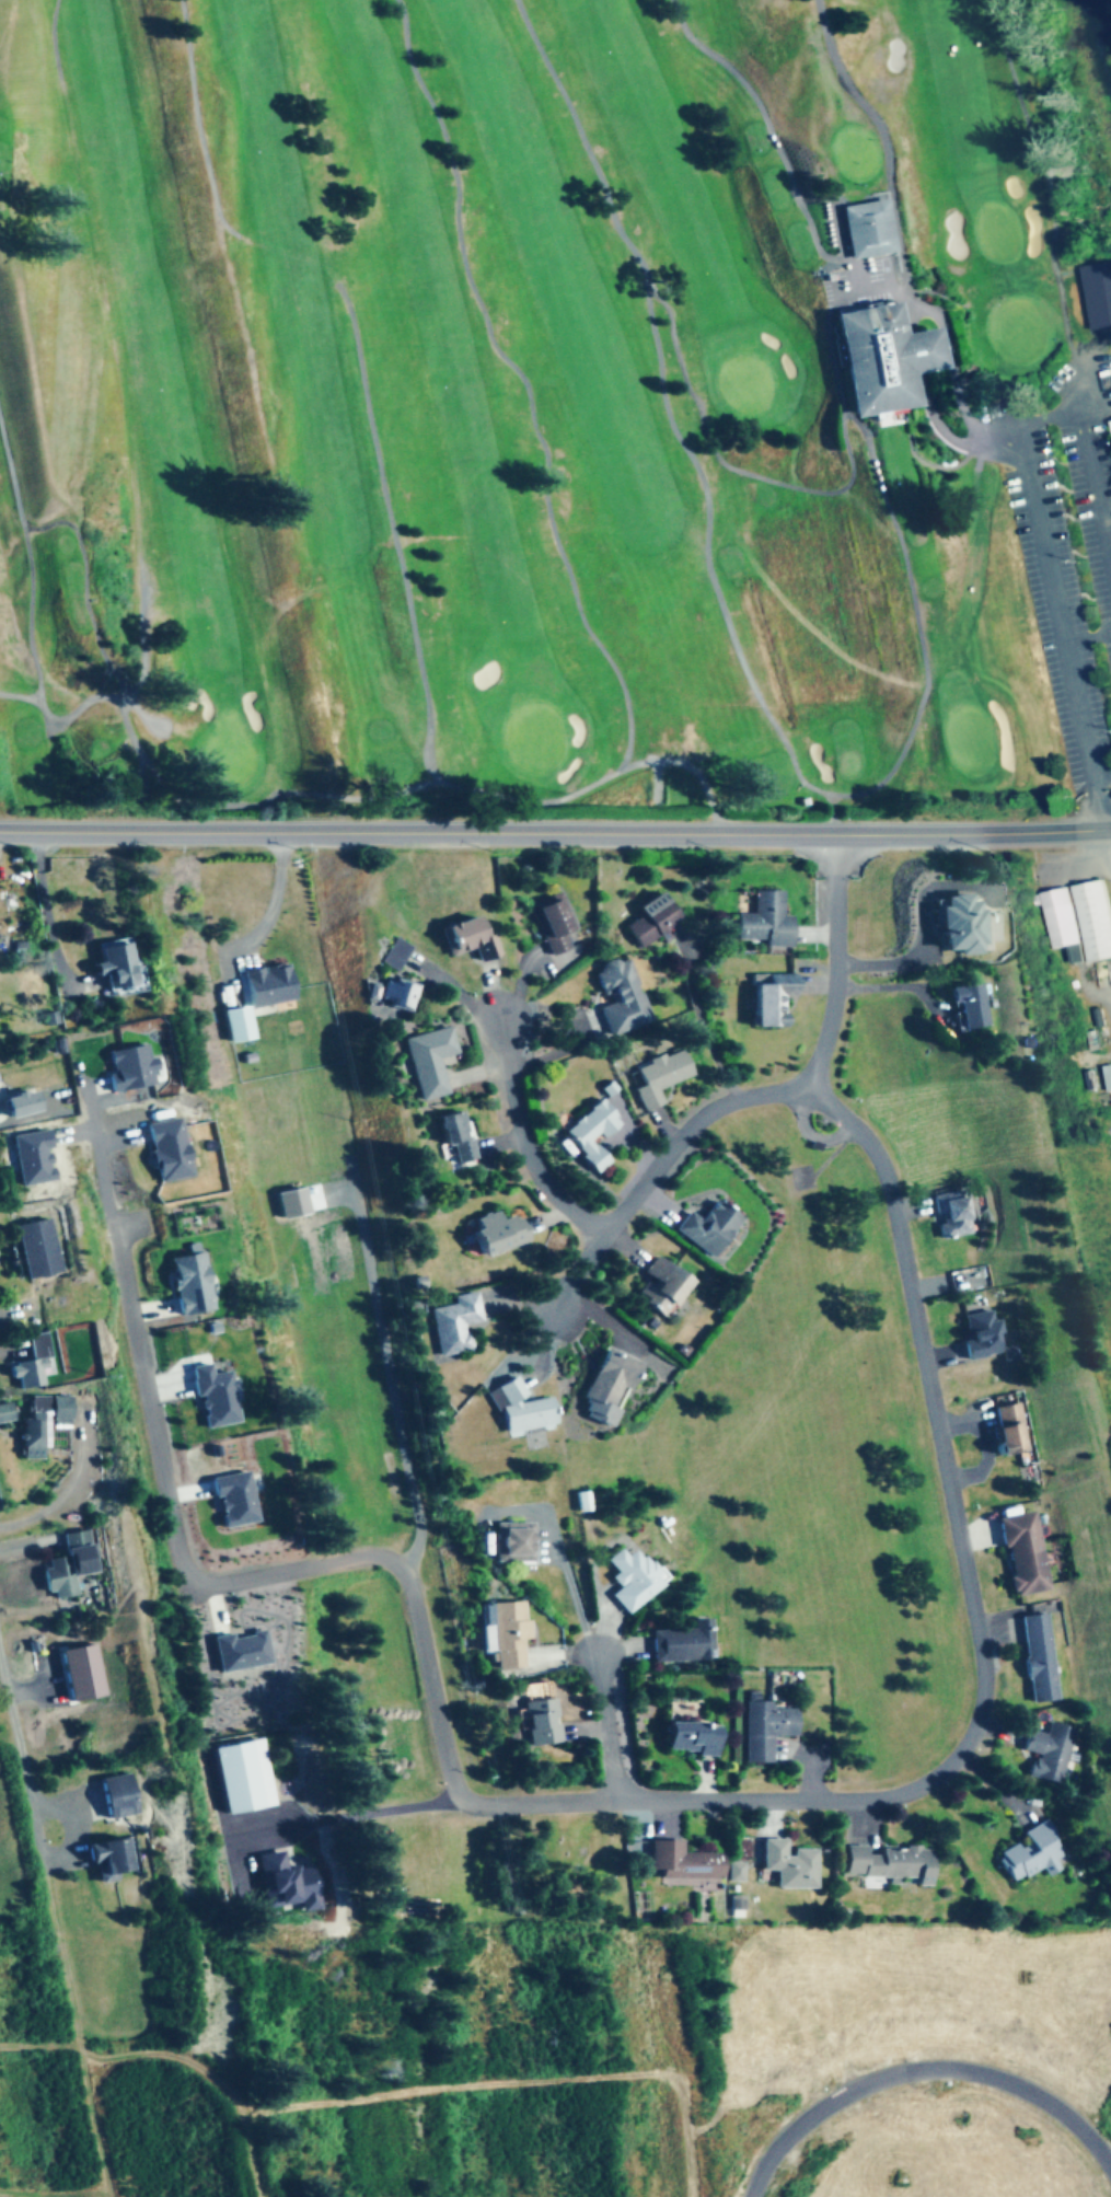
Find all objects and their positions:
building: (864, 231)
building: (1090, 304)
building: (875, 360)
park: (523, 403)
road: (1057, 409)
road: (1096, 478)
road: (1064, 624)
road: (1103, 773)
road: (555, 832)
building: (1078, 921)
building: (648, 922)
building: (766, 923)
building: (954, 924)
building: (551, 926)
building: (464, 938)
building: (391, 953)
building: (111, 965)
road: (840, 965)
building: (392, 995)
building: (618, 996)
building: (769, 998)
building: (965, 1006)
building: (425, 1061)
building: (658, 1075)
building: (1108, 1076)
building: (589, 1133)
building: (452, 1136)
road: (523, 1142)
road: (659, 1166)
building: (953, 1214)
building: (706, 1227)
building: (490, 1232)
building: (38, 1247)
building: (659, 1286)
building: (451, 1325)
building: (982, 1334)
building: (33, 1362)
building: (603, 1386)
building: (518, 1409)
building: (4, 1411)
building: (43, 1422)
building: (1007, 1432)
building: (509, 1542)
building: (1023, 1553)
building: (68, 1569)
building: (627, 1577)
building: (501, 1633)
building: (679, 1642)
building: (1040, 1657)
building: (537, 1721)
road: (607, 1727)
building: (764, 1728)
building: (686, 1739)
building: (1051, 1751)
road: (21, 1765)
building: (116, 1795)
road: (658, 1800)
building: (1033, 1853)
building: (111, 1858)
building: (679, 1861)
building: (888, 1862)
building: (789, 1864)
building: (737, 1870)

